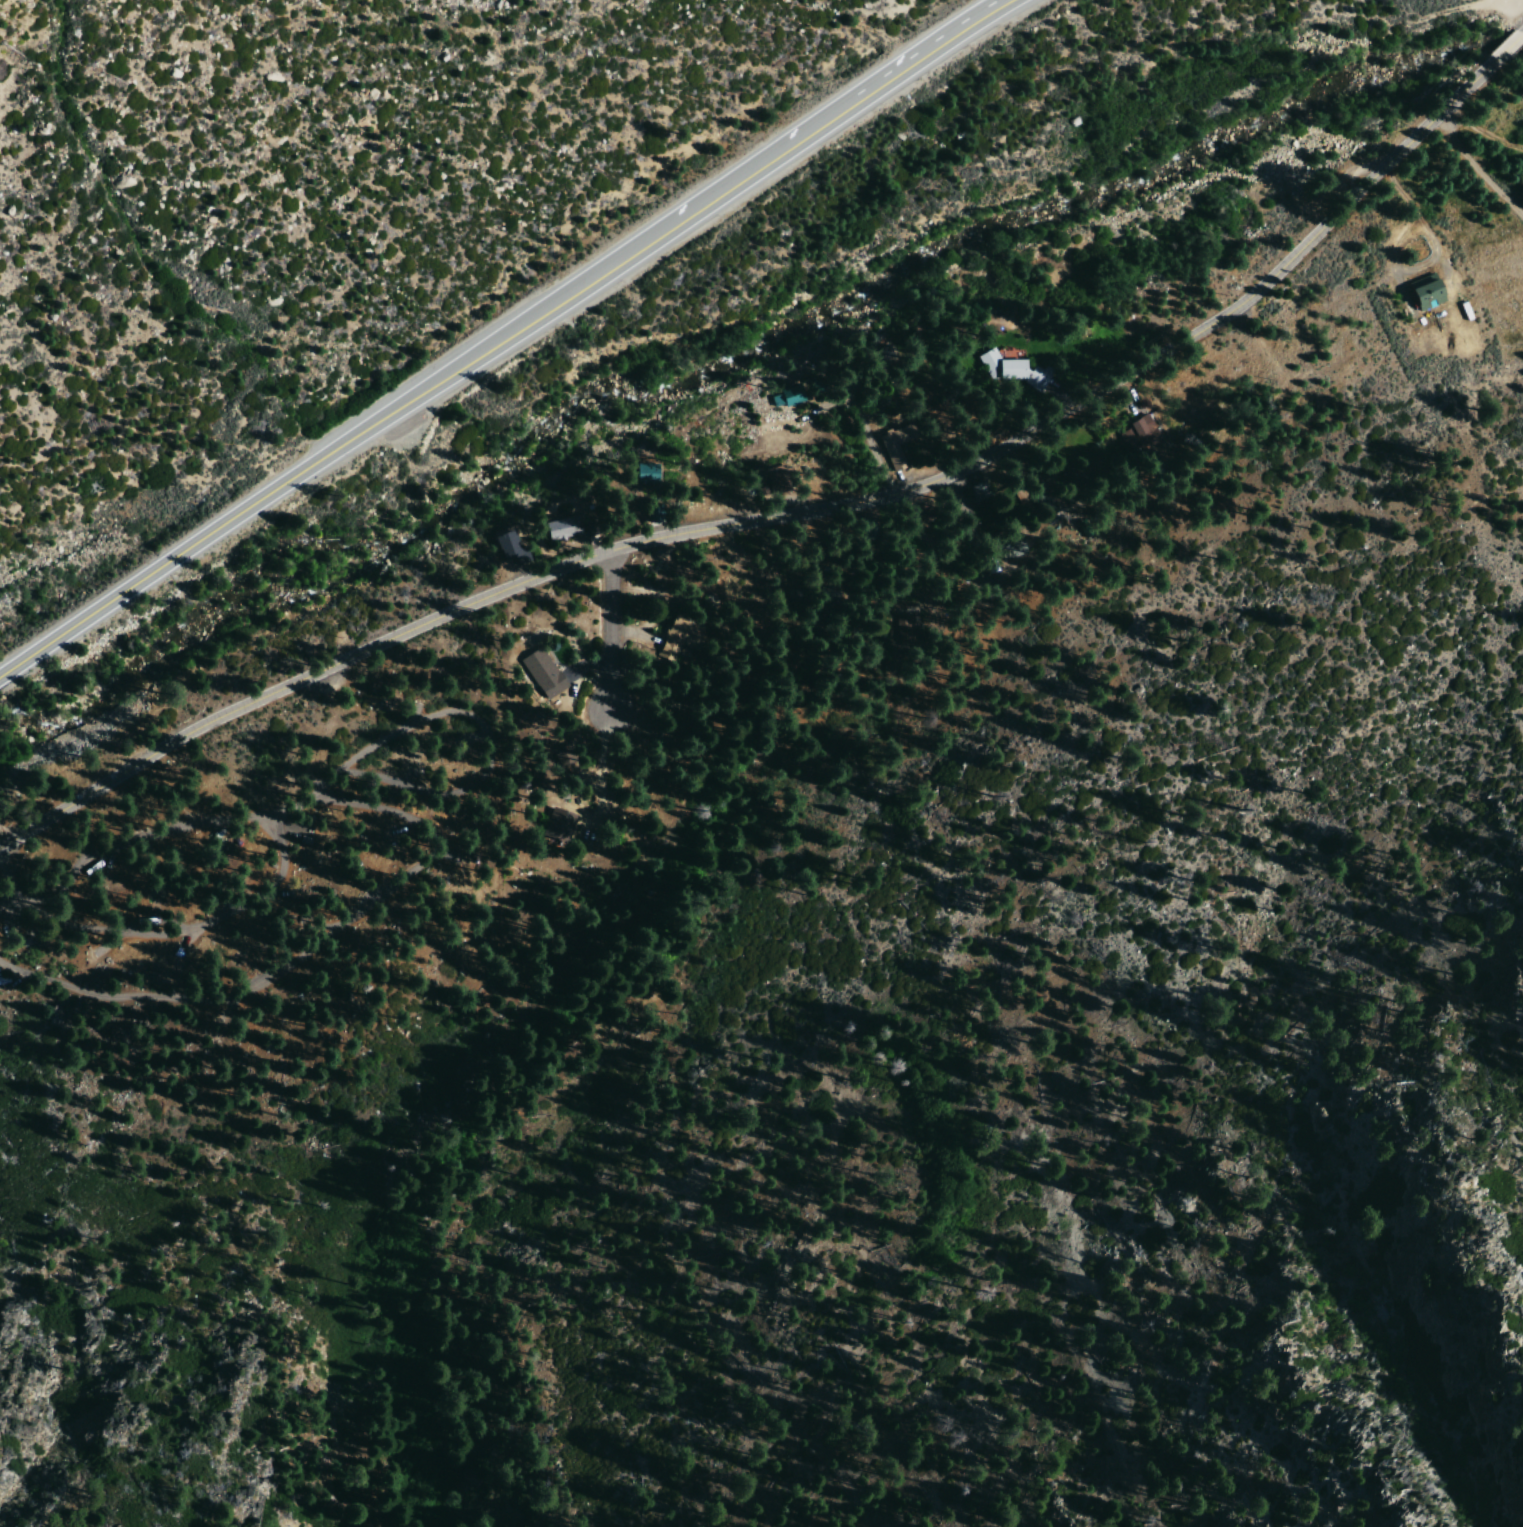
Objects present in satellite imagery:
river: (1508, 44)
road: (1510, 45)
road: (1483, 131)
road: (788, 149)
road: (1476, 171)
river: (988, 230)
building: (1429, 296)
building: (855, 357)
building: (1007, 369)
building: (790, 399)
building: (1136, 430)
building: (898, 445)
building: (649, 473)
road: (280, 484)
building: (773, 486)
building: (1064, 486)
building: (973, 496)
building: (1041, 505)
building: (655, 507)
building: (925, 515)
road: (789, 517)
building: (875, 529)
building: (563, 530)
building: (1085, 530)
building: (513, 549)
building: (992, 549)
building: (822, 584)
river: (257, 595)
building: (925, 625)
road: (614, 633)
building: (679, 636)
building: (545, 676)
road: (373, 749)
building: (560, 753)
road: (334, 771)
building: (560, 823)
building: (298, 836)
road: (402, 888)
road: (15, 892)
road: (191, 932)

